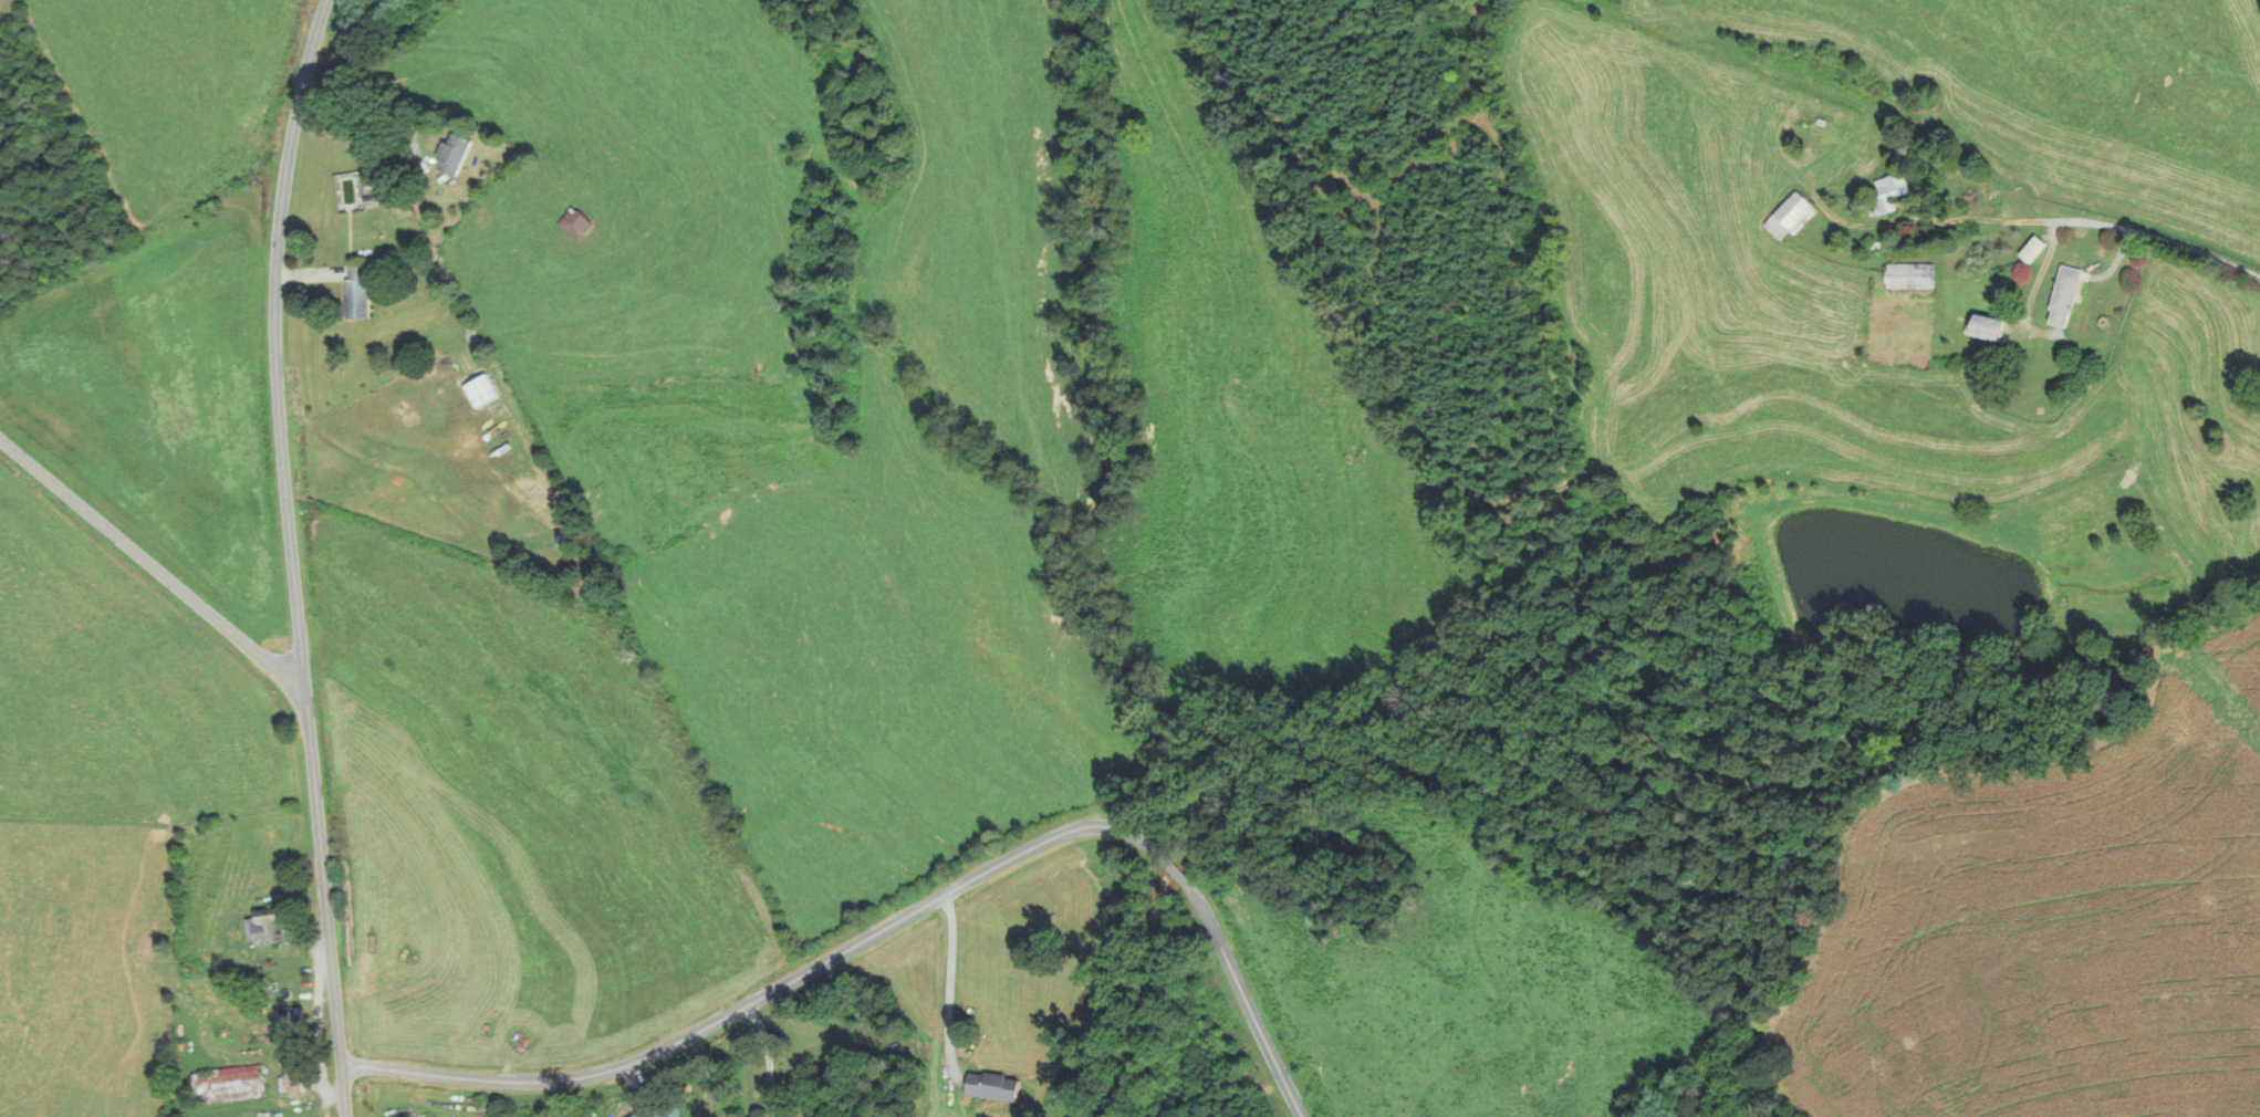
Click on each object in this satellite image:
road: (366, 106)
building: (458, 153)
building: (1886, 192)
building: (1785, 216)
road: (2072, 220)
building: (2031, 249)
building: (1909, 274)
building: (362, 292)
building: (2063, 295)
building: (1985, 326)
building: (486, 392)
road: (290, 556)
road: (152, 562)
road: (1175, 870)
building: (264, 927)
road: (950, 978)
road: (767, 993)
road: (1246, 1000)
road: (769, 1057)
building: (290, 1081)
building: (227, 1085)
building: (990, 1087)
building: (653, 1114)

